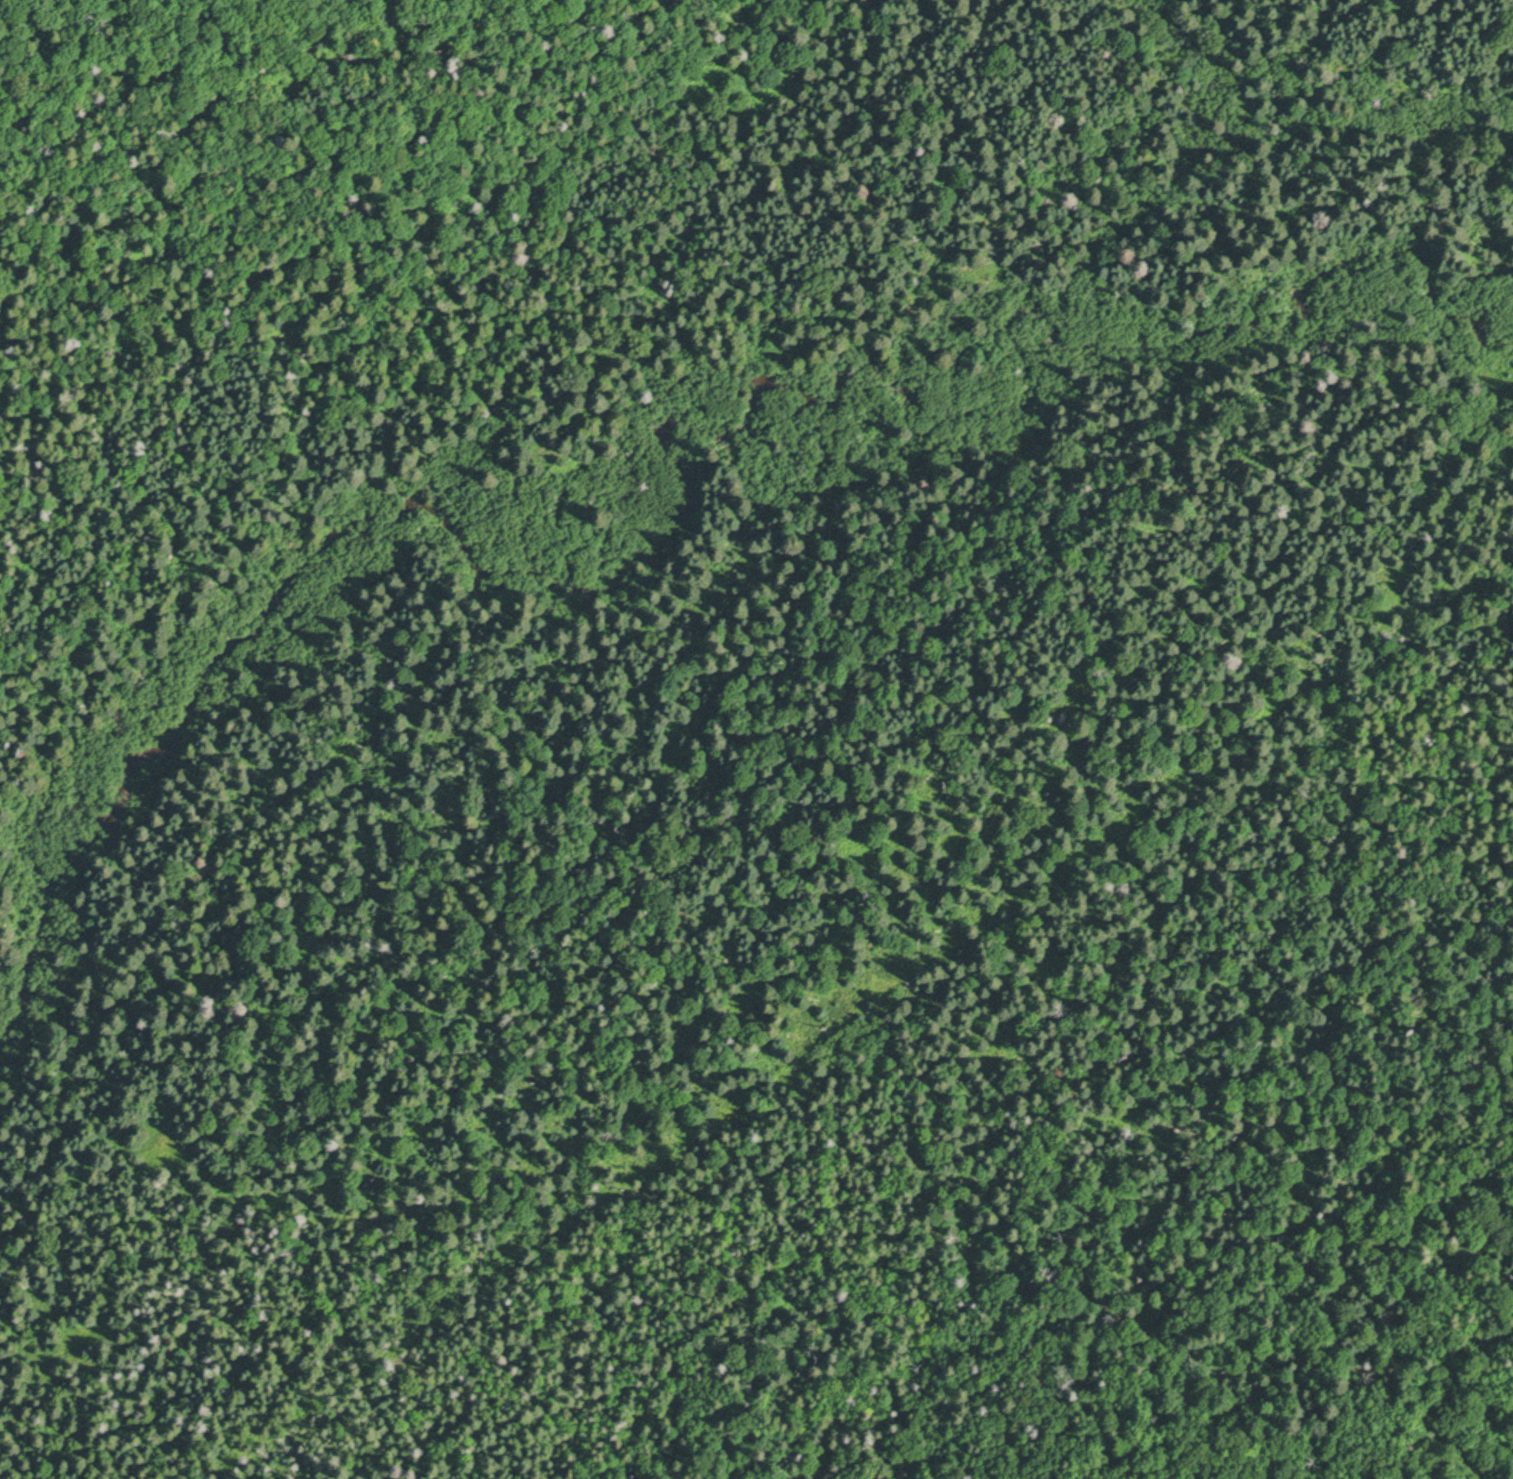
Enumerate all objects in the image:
road: (39, 1148)

